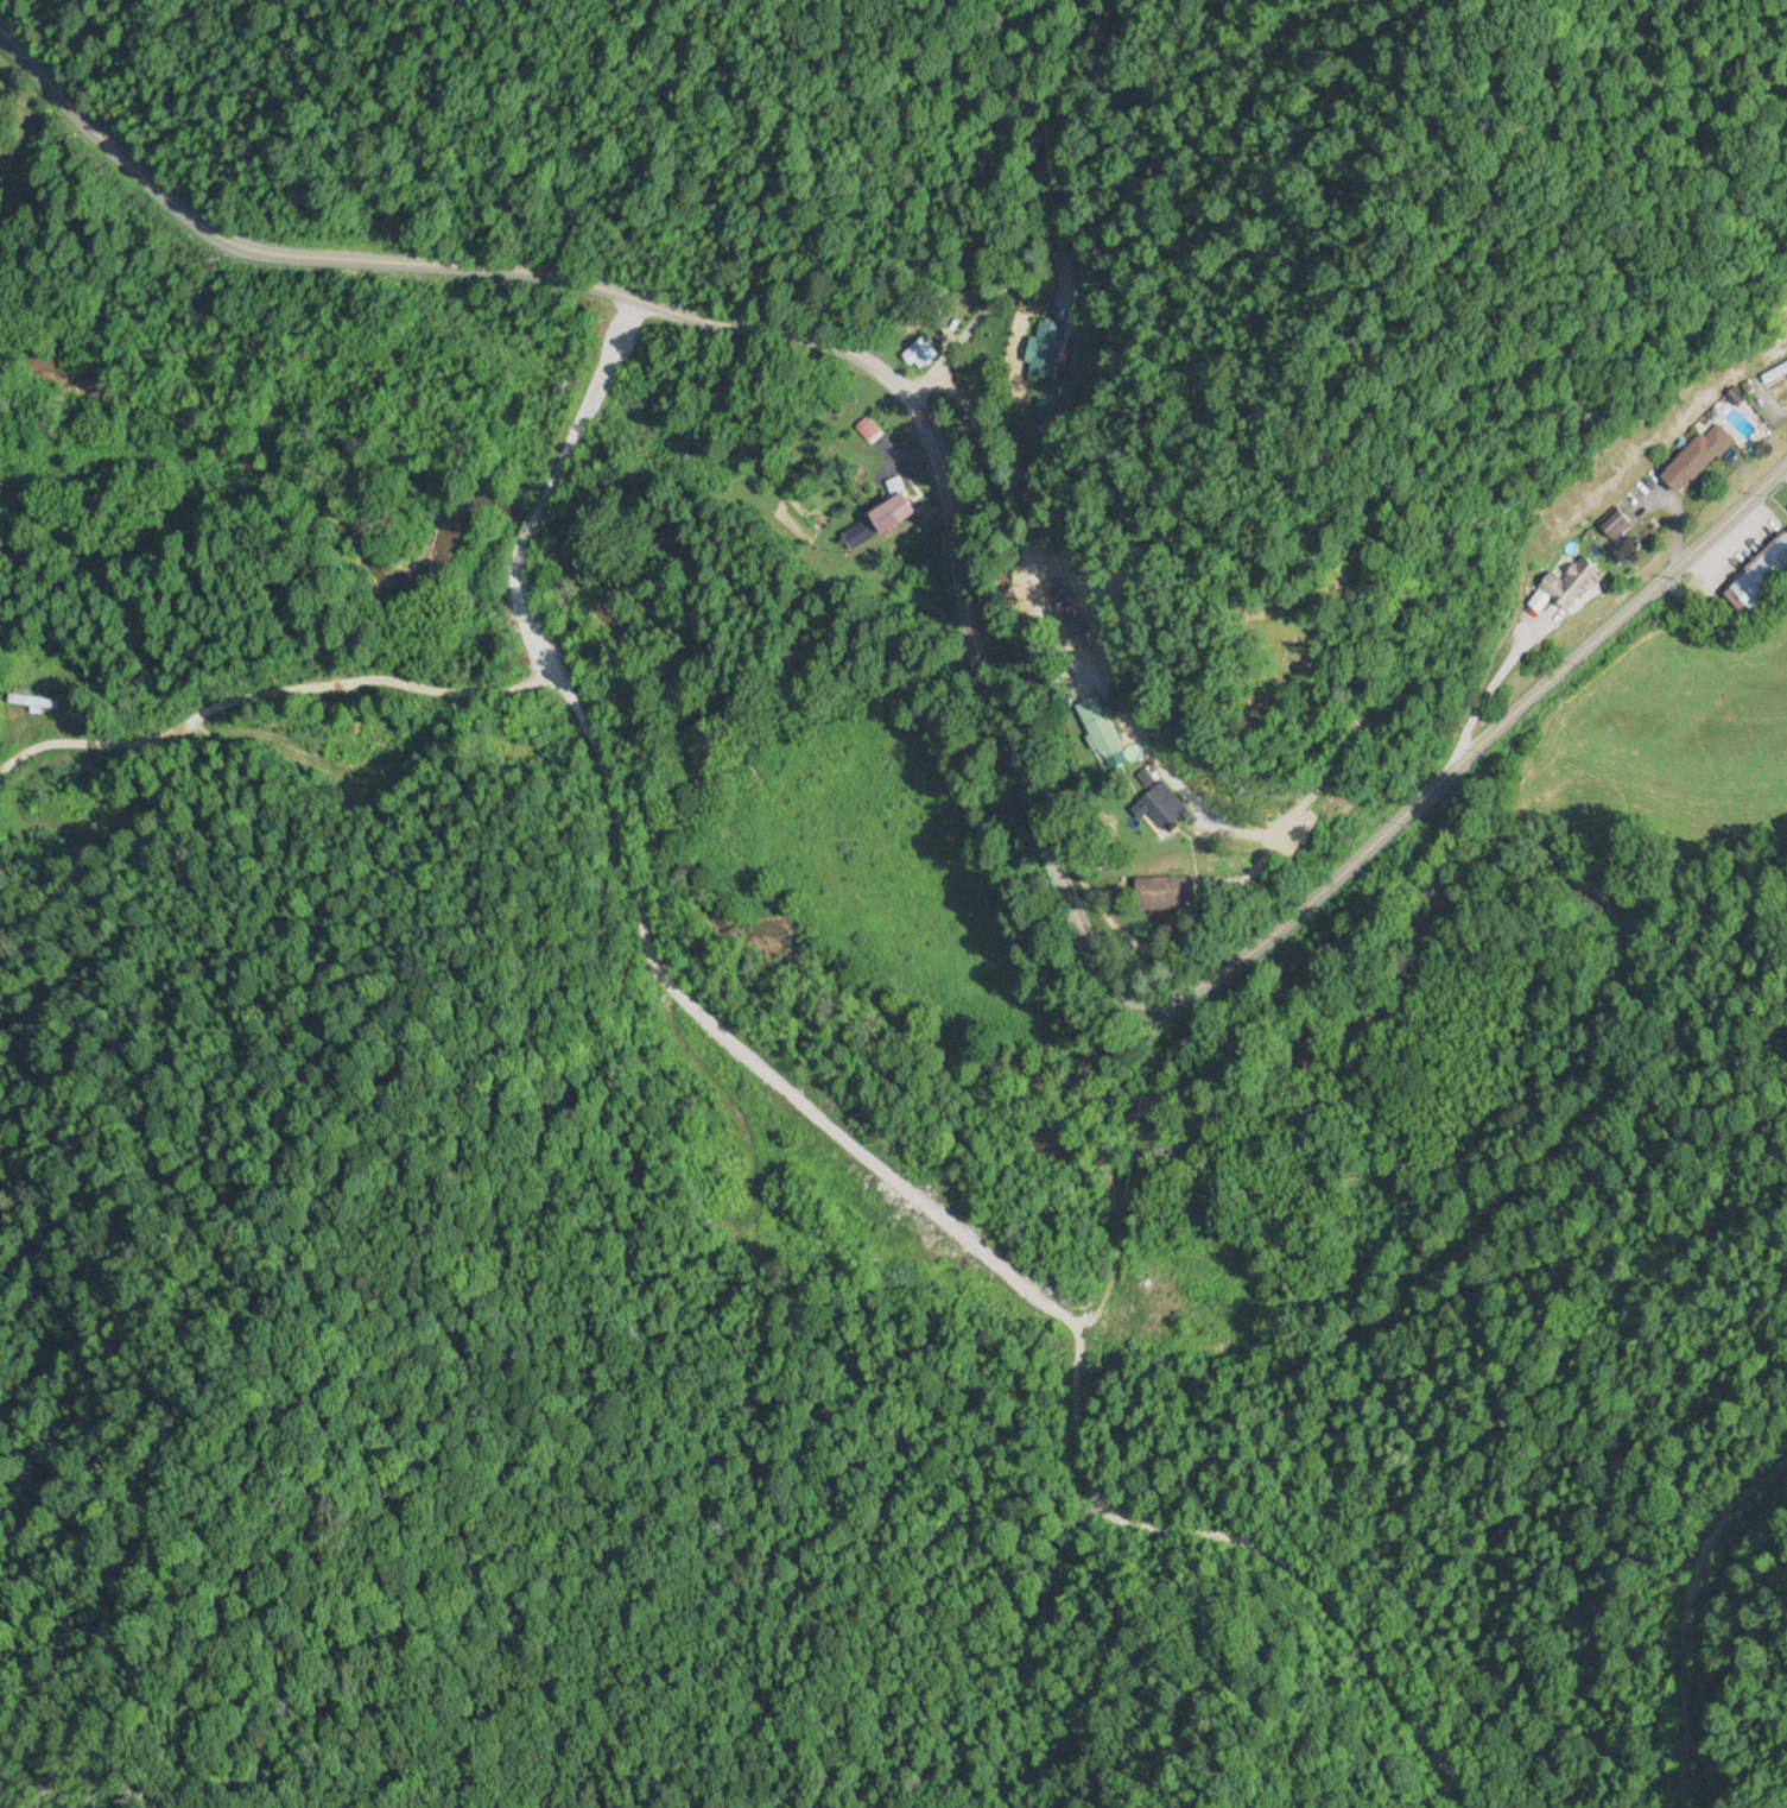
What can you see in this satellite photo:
road: (771, 284)
road: (1010, 405)
road: (977, 445)
road: (1491, 712)

